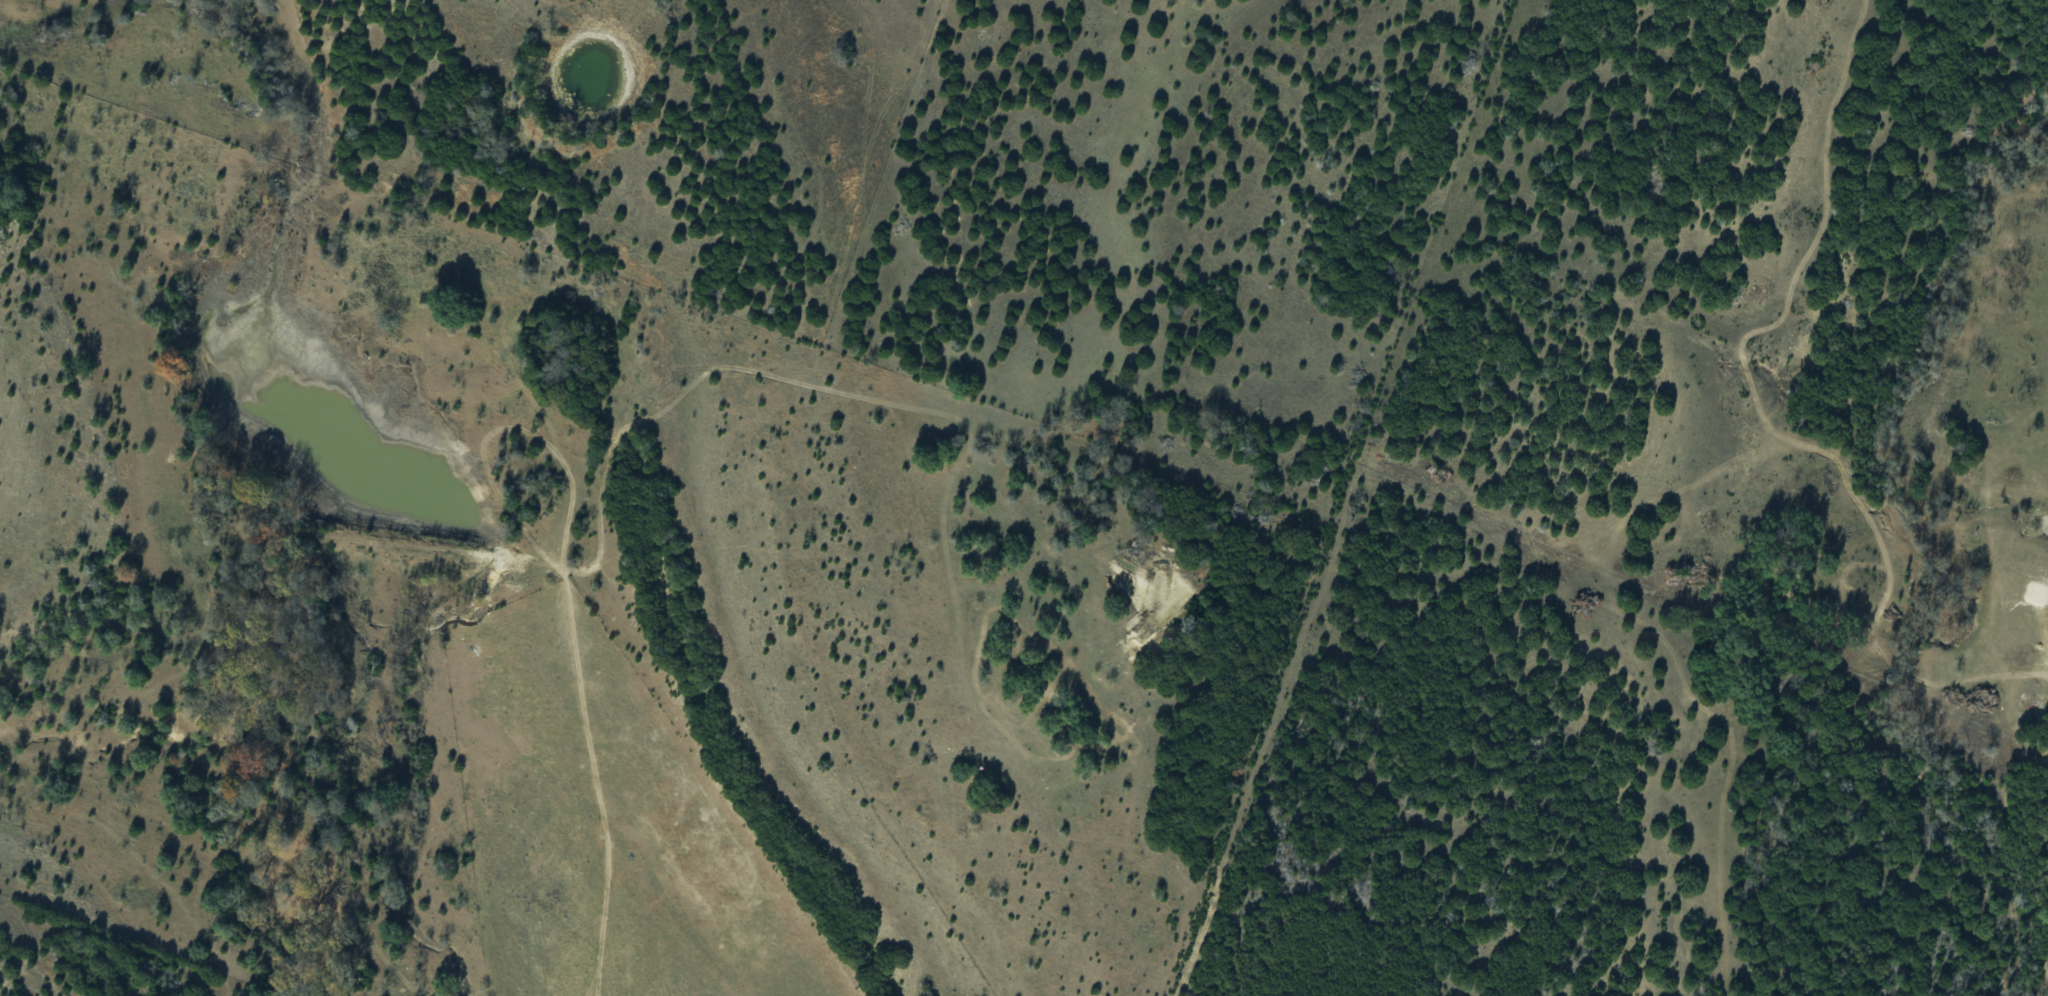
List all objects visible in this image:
building: (2047, 603)

